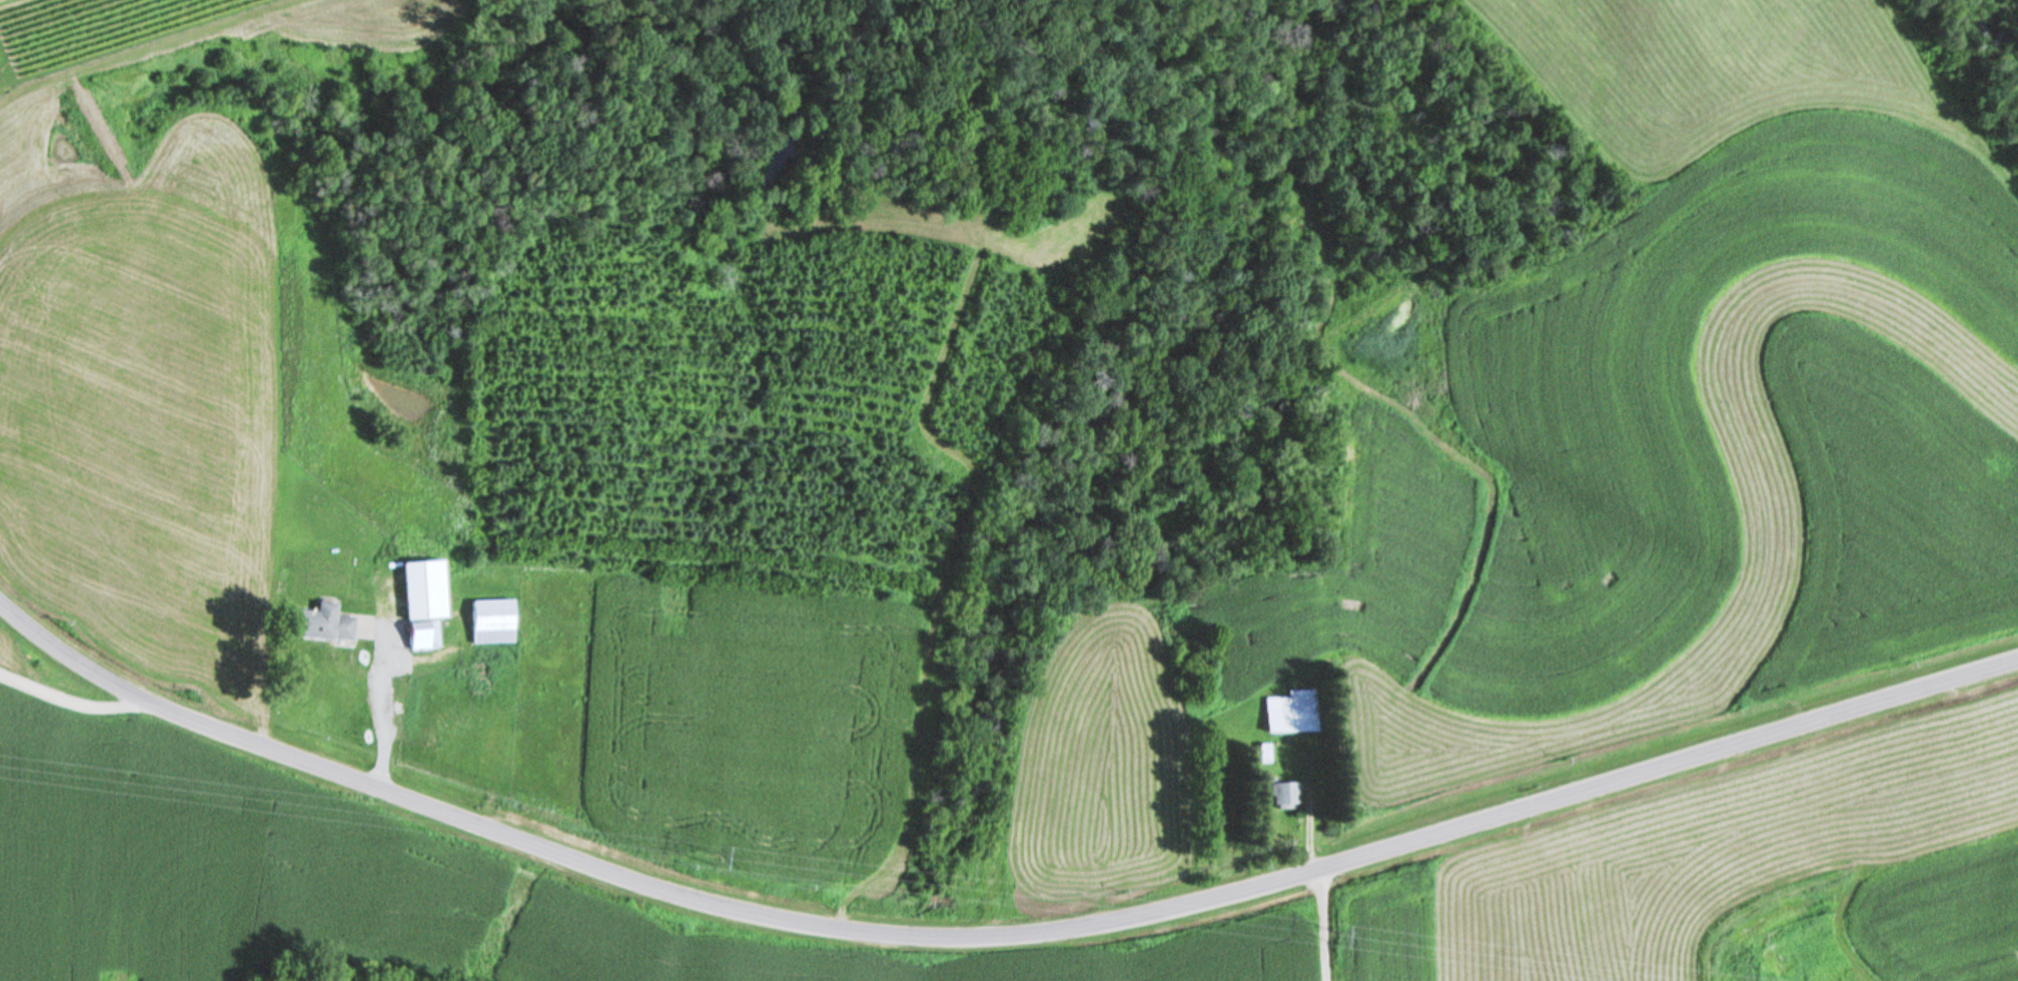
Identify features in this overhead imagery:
road: (831, 459)
building: (429, 601)
building: (497, 621)
building: (328, 622)
road: (72, 698)
building: (1297, 711)
building: (1288, 794)
power tower: (715, 858)
power tower: (1336, 935)
road: (999, 936)

